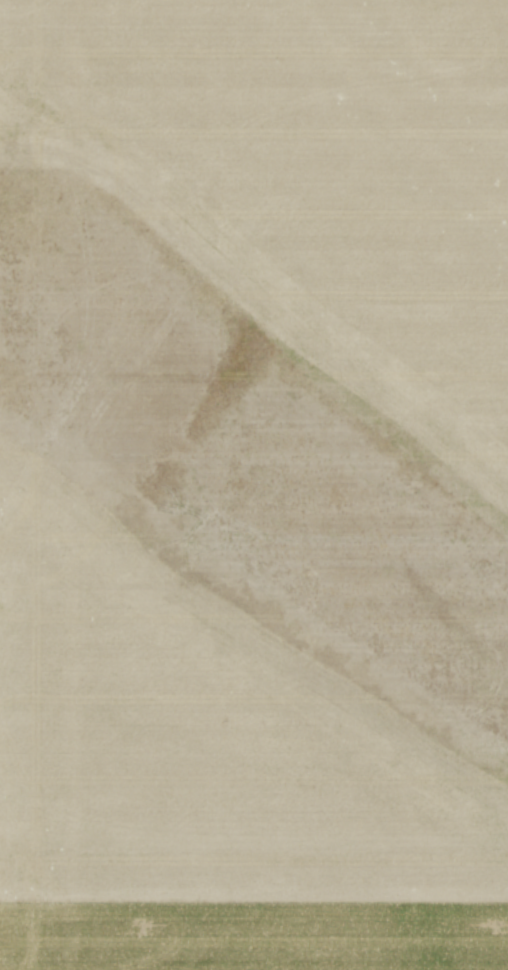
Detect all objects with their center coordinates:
crop: (254, 485)

